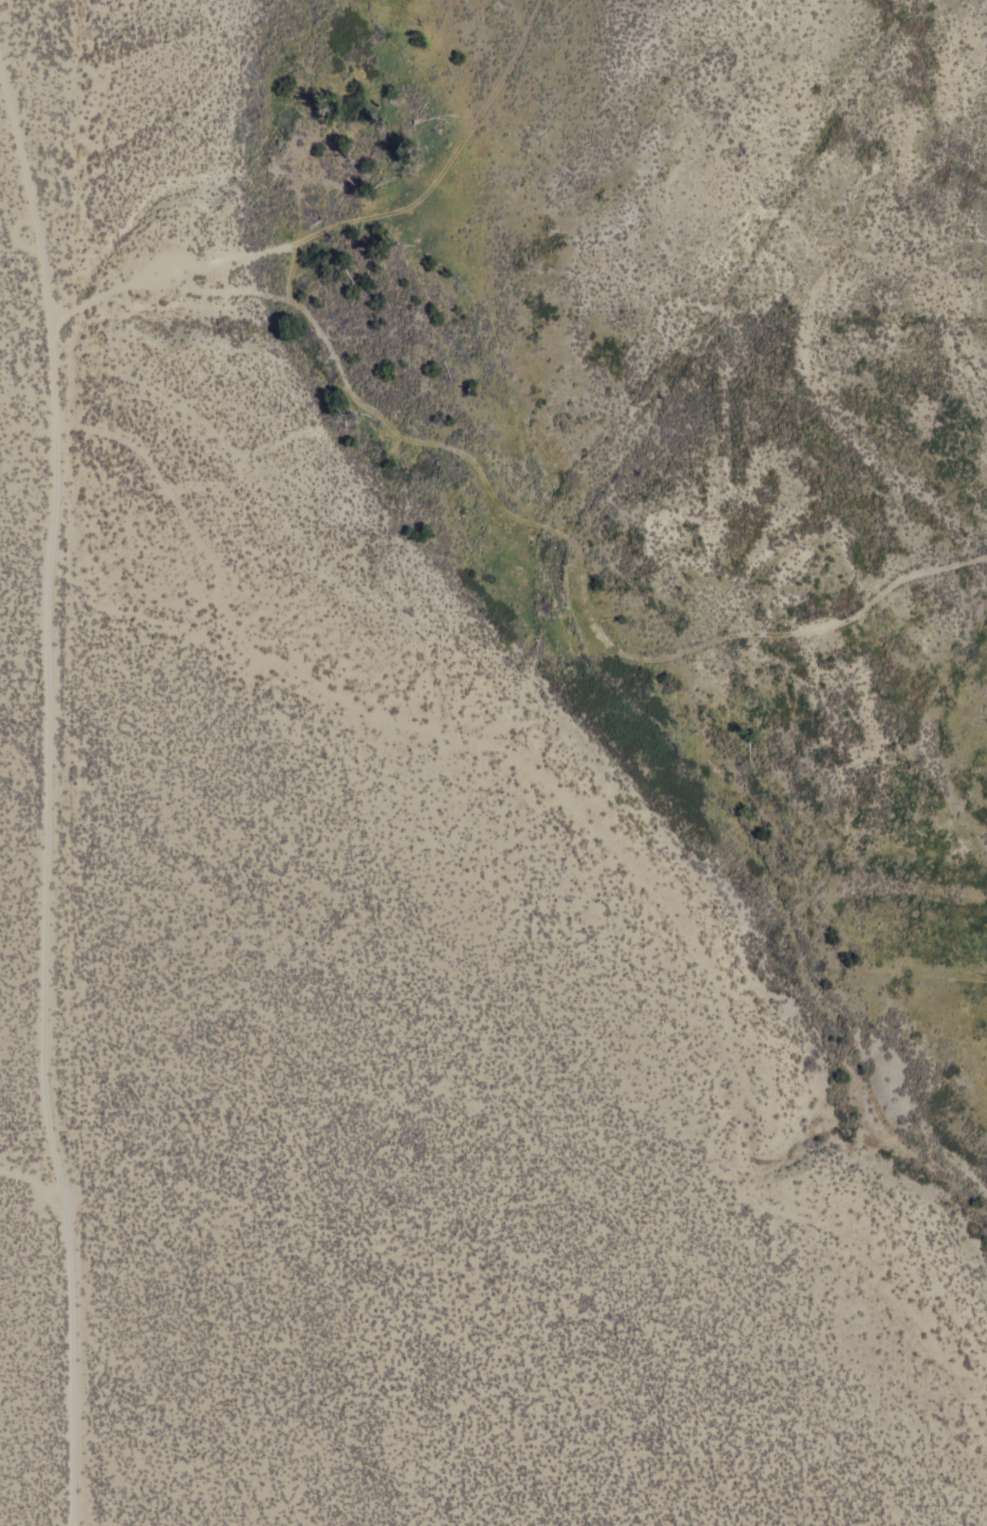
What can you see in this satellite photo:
road: (351, 224)
road: (572, 546)
road: (45, 796)

